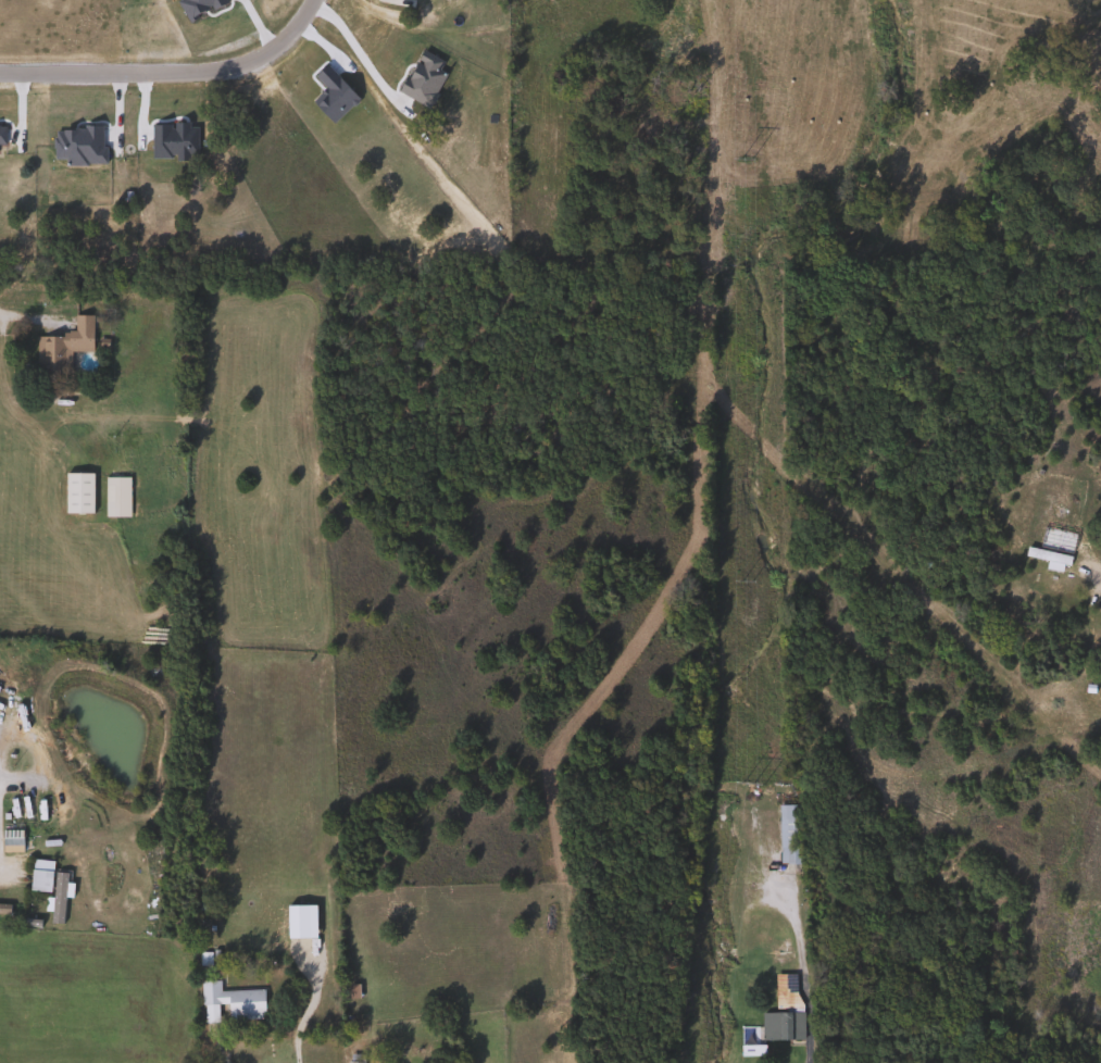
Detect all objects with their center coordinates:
road: (363, 58)
road: (177, 77)
power tower: (747, 161)
road: (27, 315)
building: (60, 347)
building: (75, 493)
building: (113, 498)
road: (1100, 574)
power tower: (747, 583)
power tower: (753, 785)
building: (786, 835)
building: (10, 839)
road: (4, 872)
building: (3, 908)
road: (801, 976)
building: (783, 991)
building: (227, 1003)
road: (300, 1016)
building: (779, 1026)
road: (222, 1056)
building: (351, 1059)

